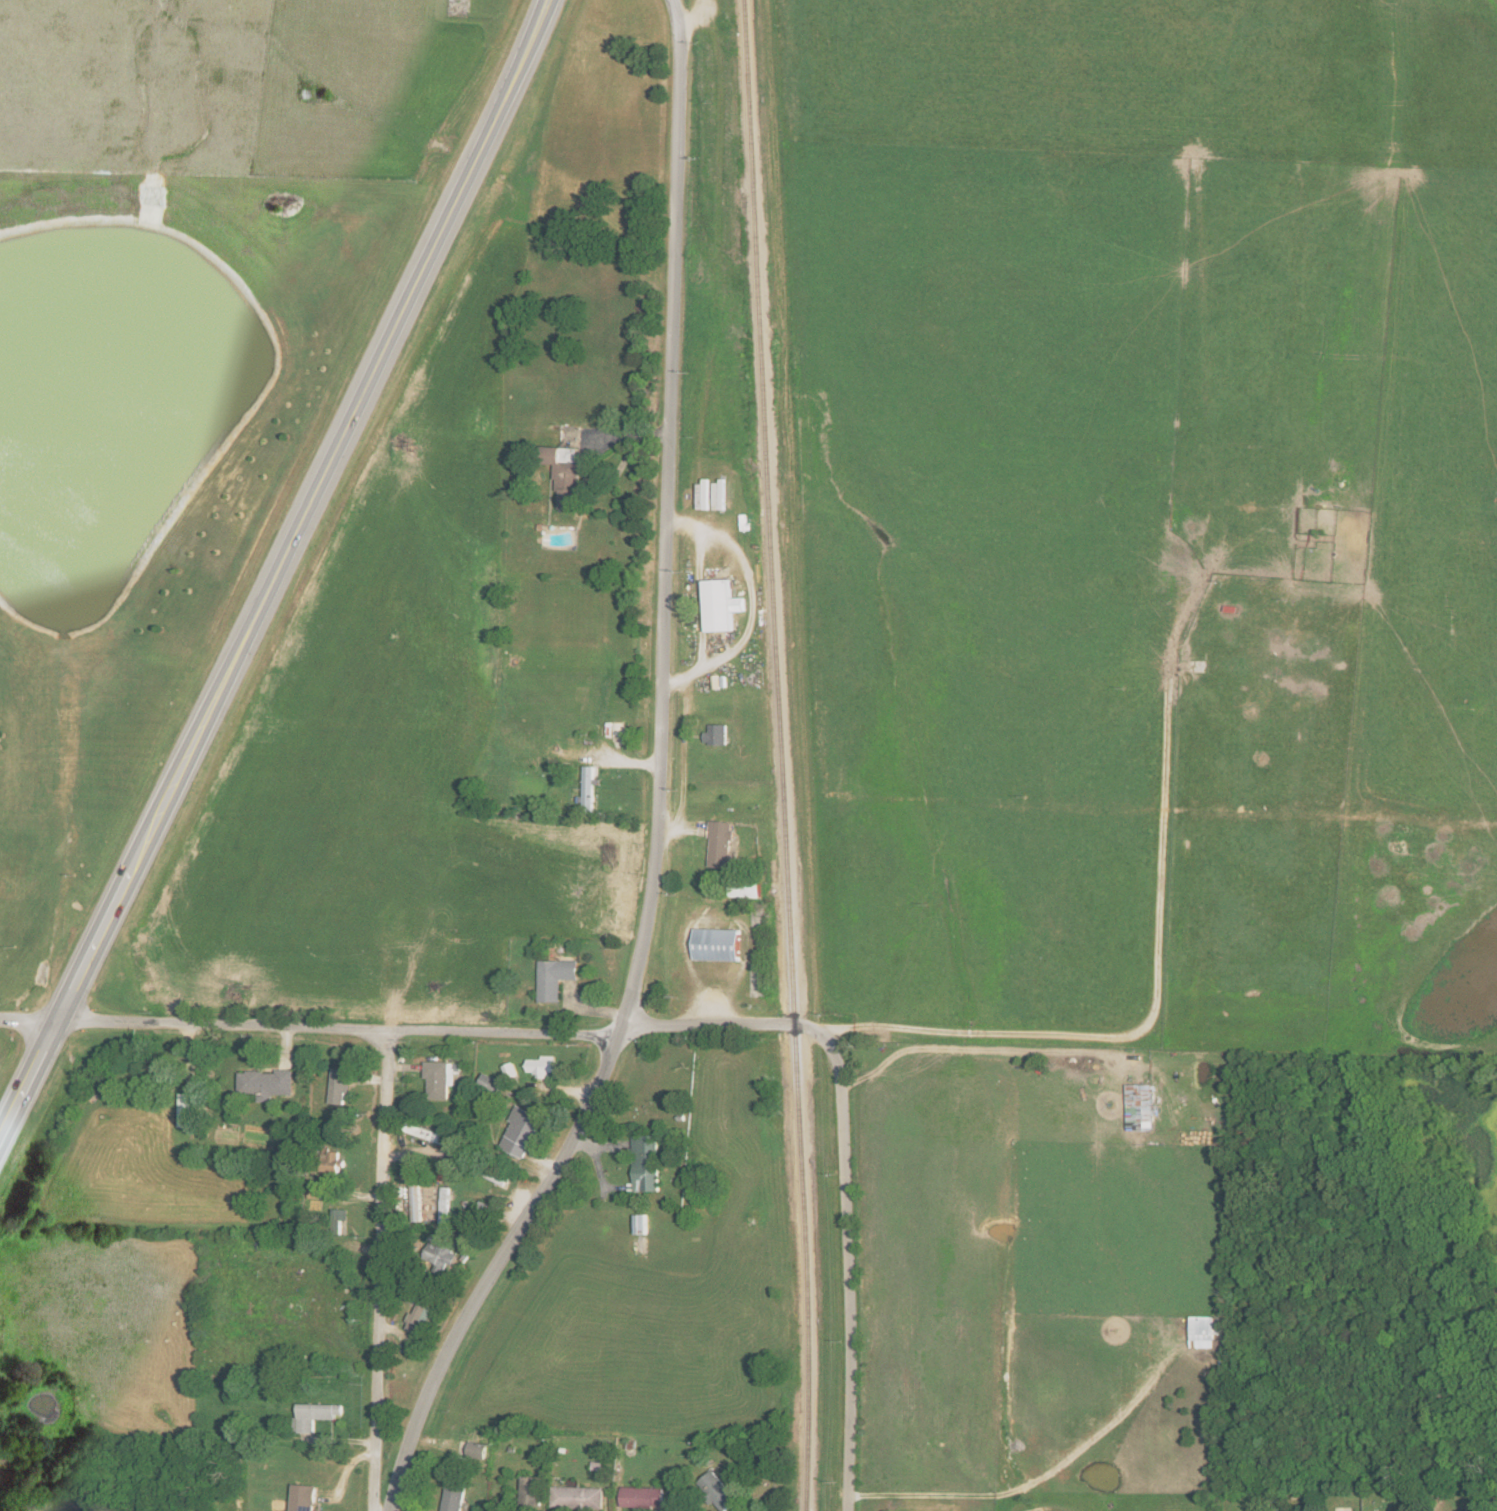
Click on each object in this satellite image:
road: (707, 376)
building: (564, 472)
road: (277, 569)
building: (721, 605)
building: (715, 734)
railway: (778, 755)
road: (656, 784)
building: (587, 789)
building: (720, 844)
building: (745, 887)
building: (717, 944)
road: (1159, 957)
building: (553, 978)
road: (28, 1021)
road: (717, 1024)
road: (337, 1028)
building: (541, 1066)
building: (510, 1070)
building: (440, 1078)
building: (488, 1083)
building: (265, 1084)
building: (340, 1085)
building: (1140, 1107)
building: (187, 1110)
building: (521, 1131)
building: (426, 1134)
building: (331, 1163)
building: (645, 1164)
building: (314, 1194)
building: (415, 1196)
building: (477, 1216)
building: (339, 1220)
building: (641, 1224)
building: (439, 1256)
road: (848, 1267)
road: (376, 1270)
building: (409, 1295)
building: (420, 1311)
building: (1201, 1332)
building: (313, 1416)
building: (717, 1492)
building: (532, 1493)
building: (454, 1496)
building: (642, 1497)
building: (302, 1498)
building: (578, 1498)

